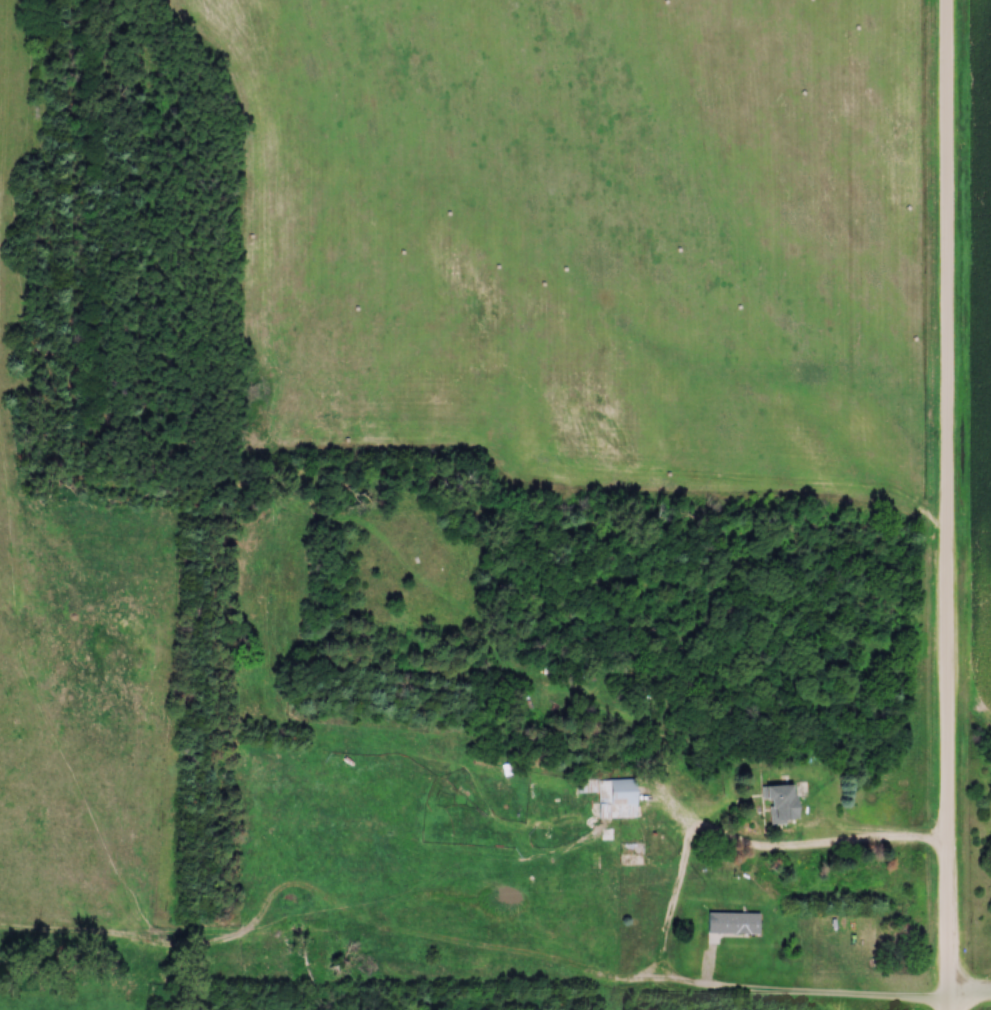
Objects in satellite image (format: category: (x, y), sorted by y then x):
road: (950, 504)
building: (464, 792)
building: (619, 800)
building: (785, 805)
building: (632, 850)
road: (678, 912)
building: (735, 924)
road: (971, 1002)

